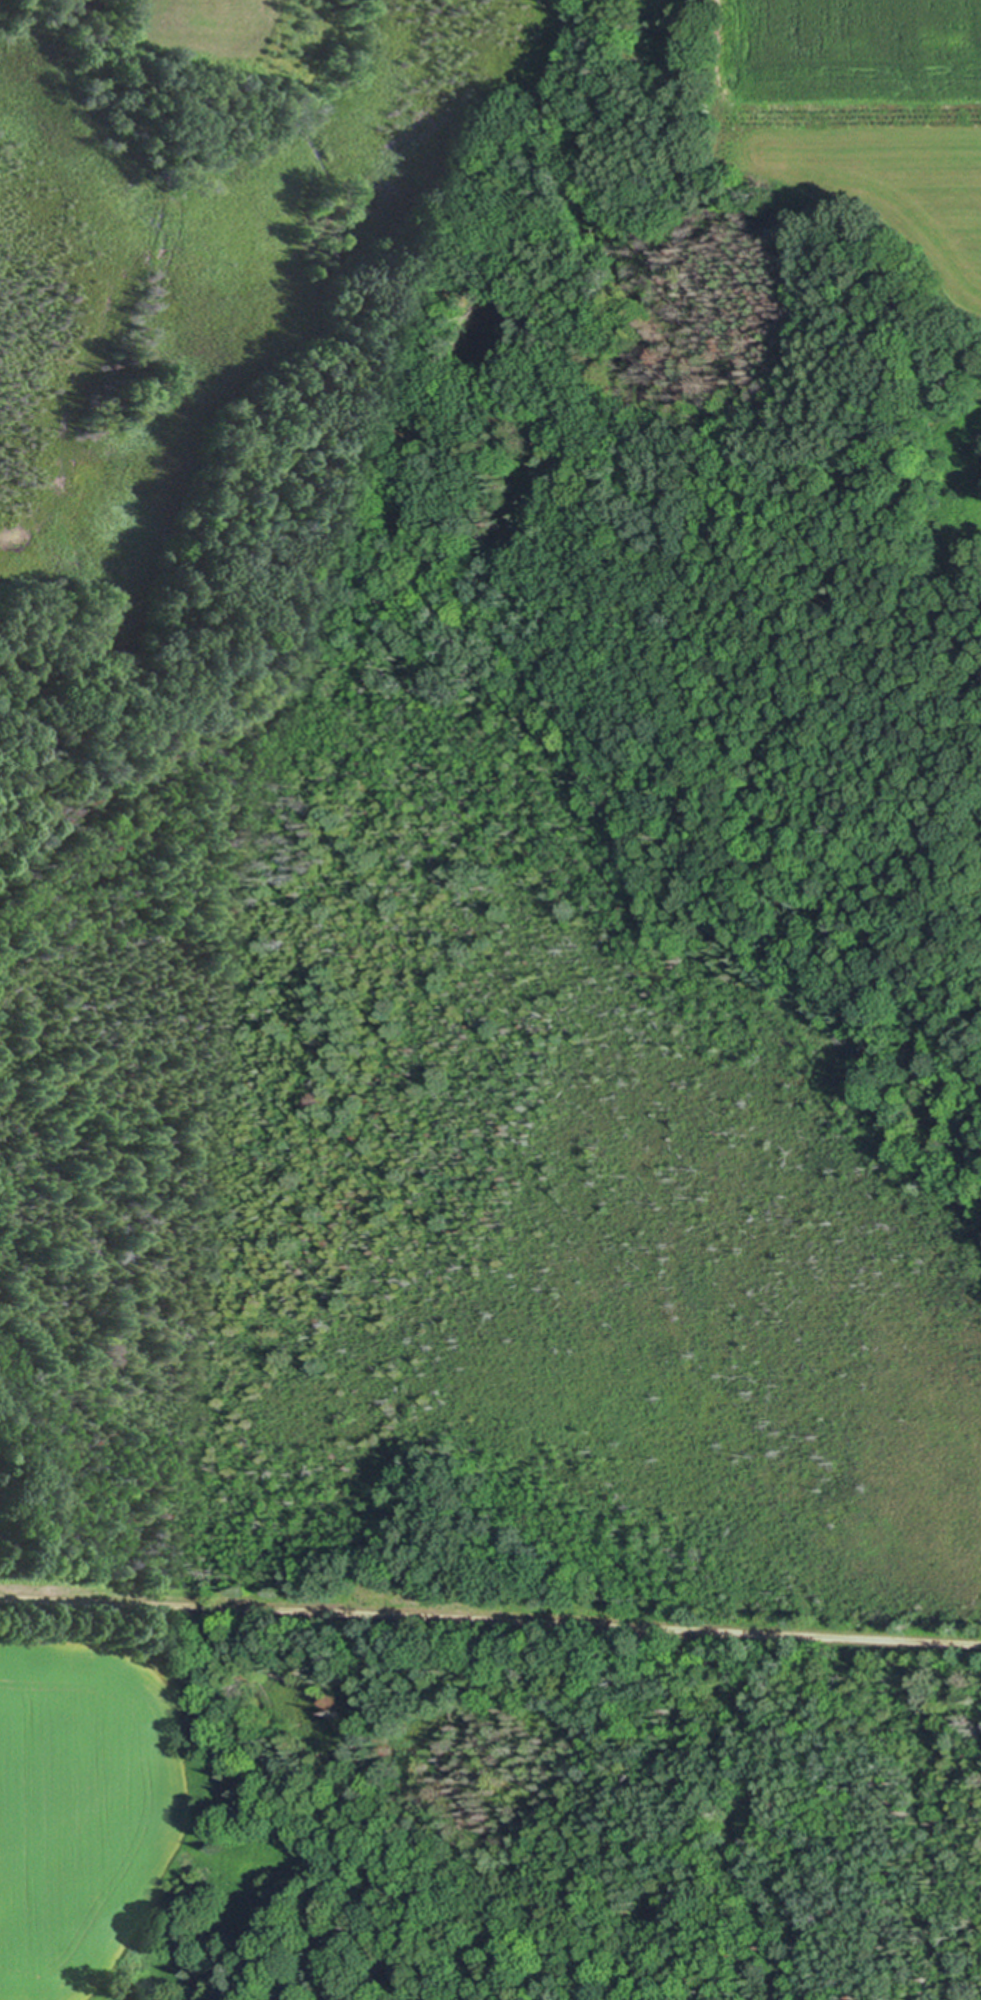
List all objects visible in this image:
road: (490, 1621)

